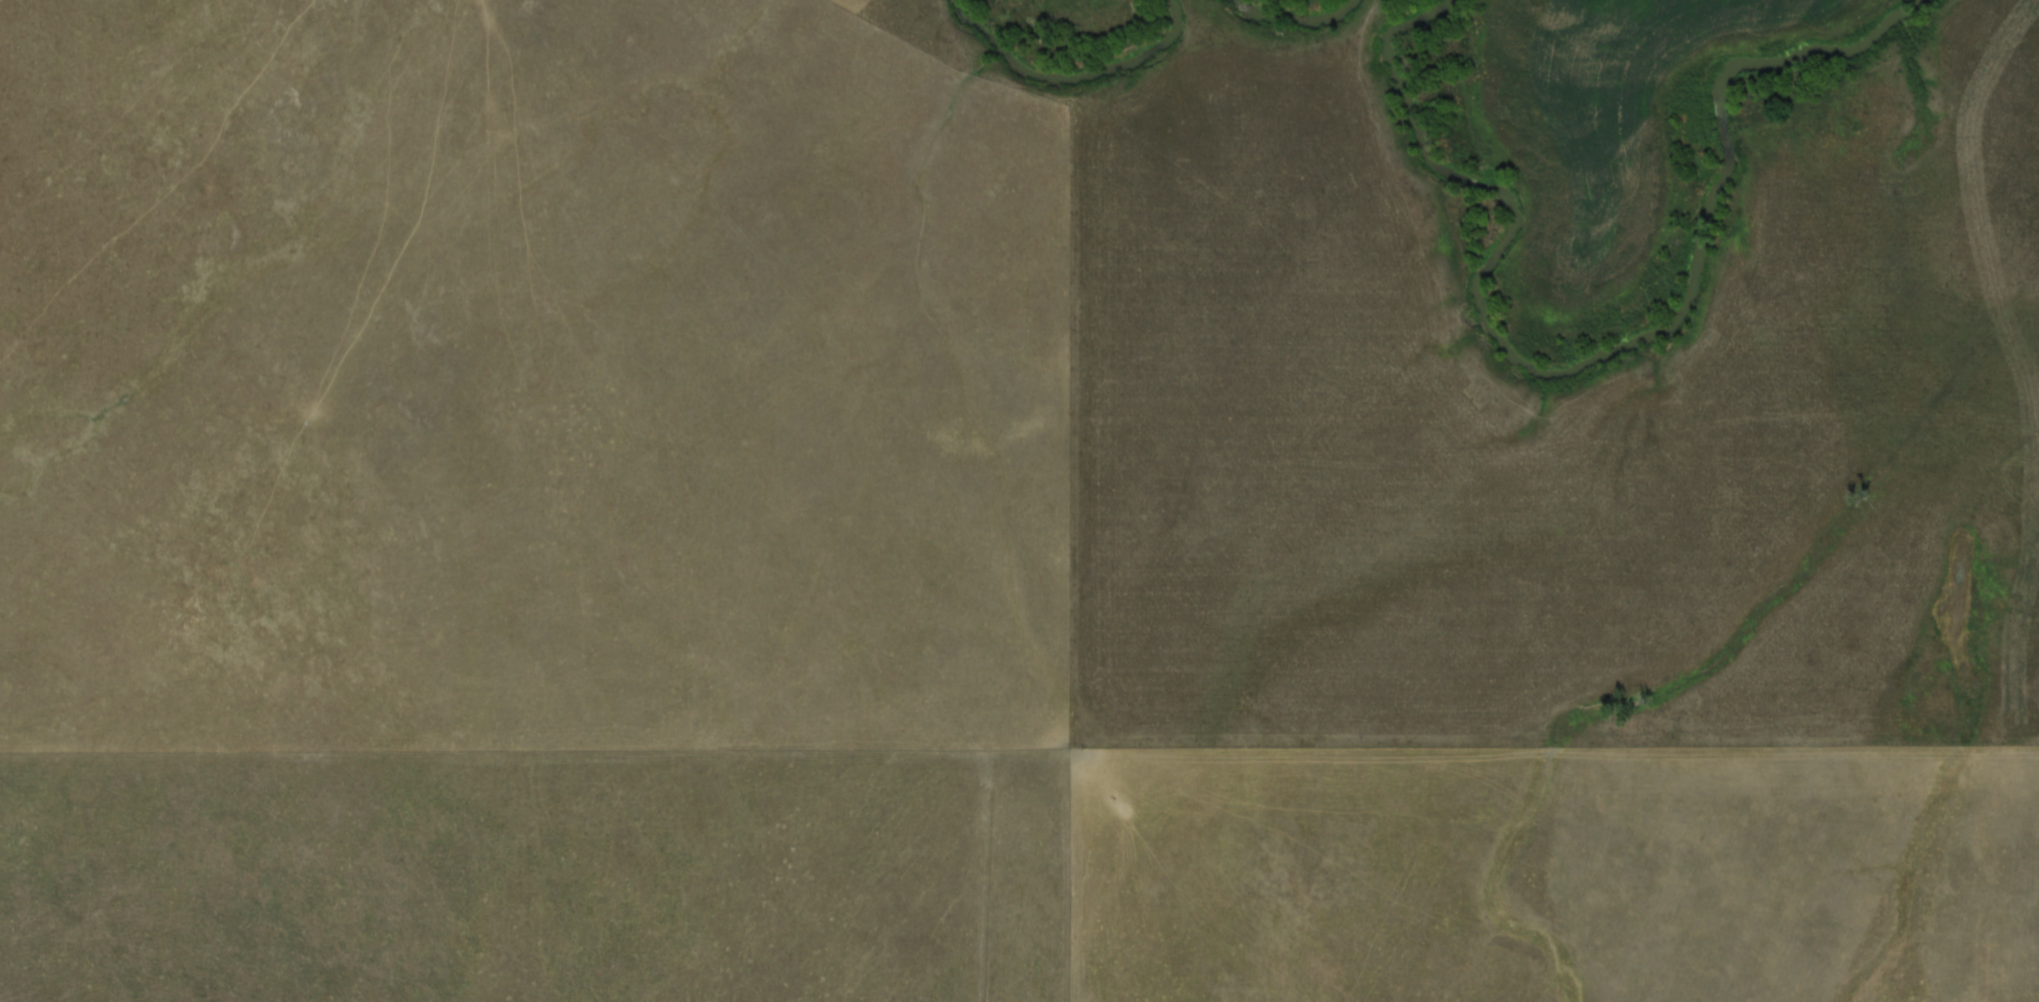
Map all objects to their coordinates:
crop: (1602, 115)

